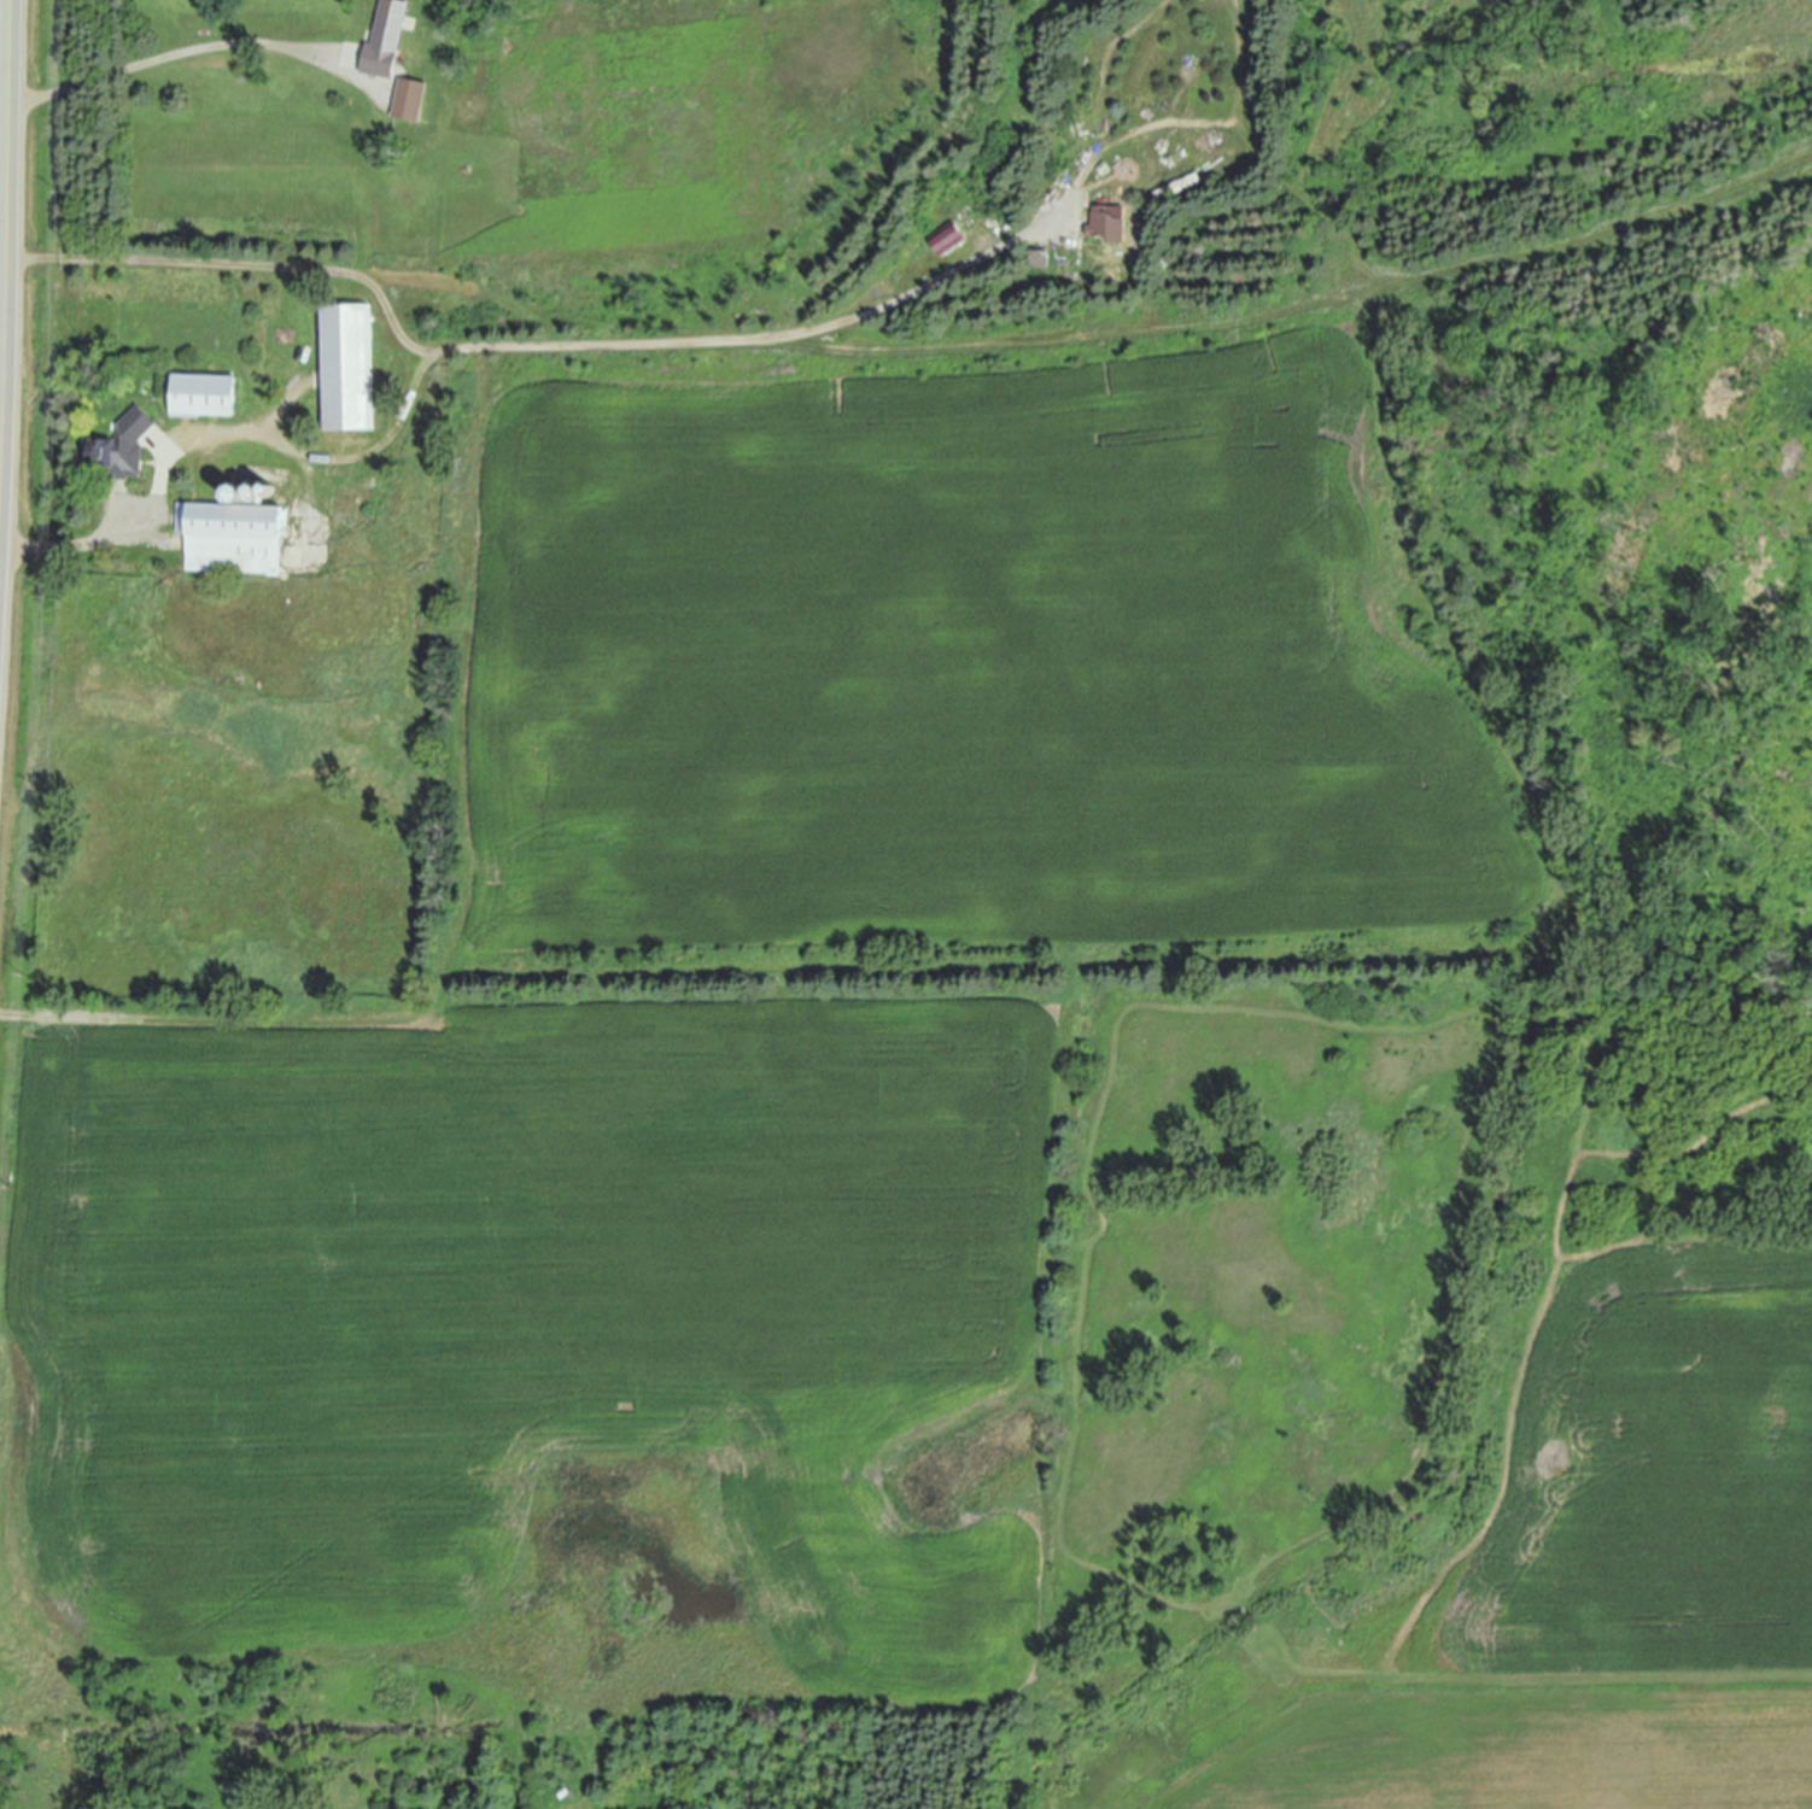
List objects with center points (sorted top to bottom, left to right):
building: (387, 35)
road: (173, 53)
building: (1060, 169)
building: (1179, 178)
building: (1120, 227)
building: (1165, 254)
building: (93, 275)
road: (10, 297)
road: (495, 335)
building: (347, 358)
building: (204, 387)
building: (122, 439)
building: (270, 486)
building: (256, 487)
building: (234, 529)

